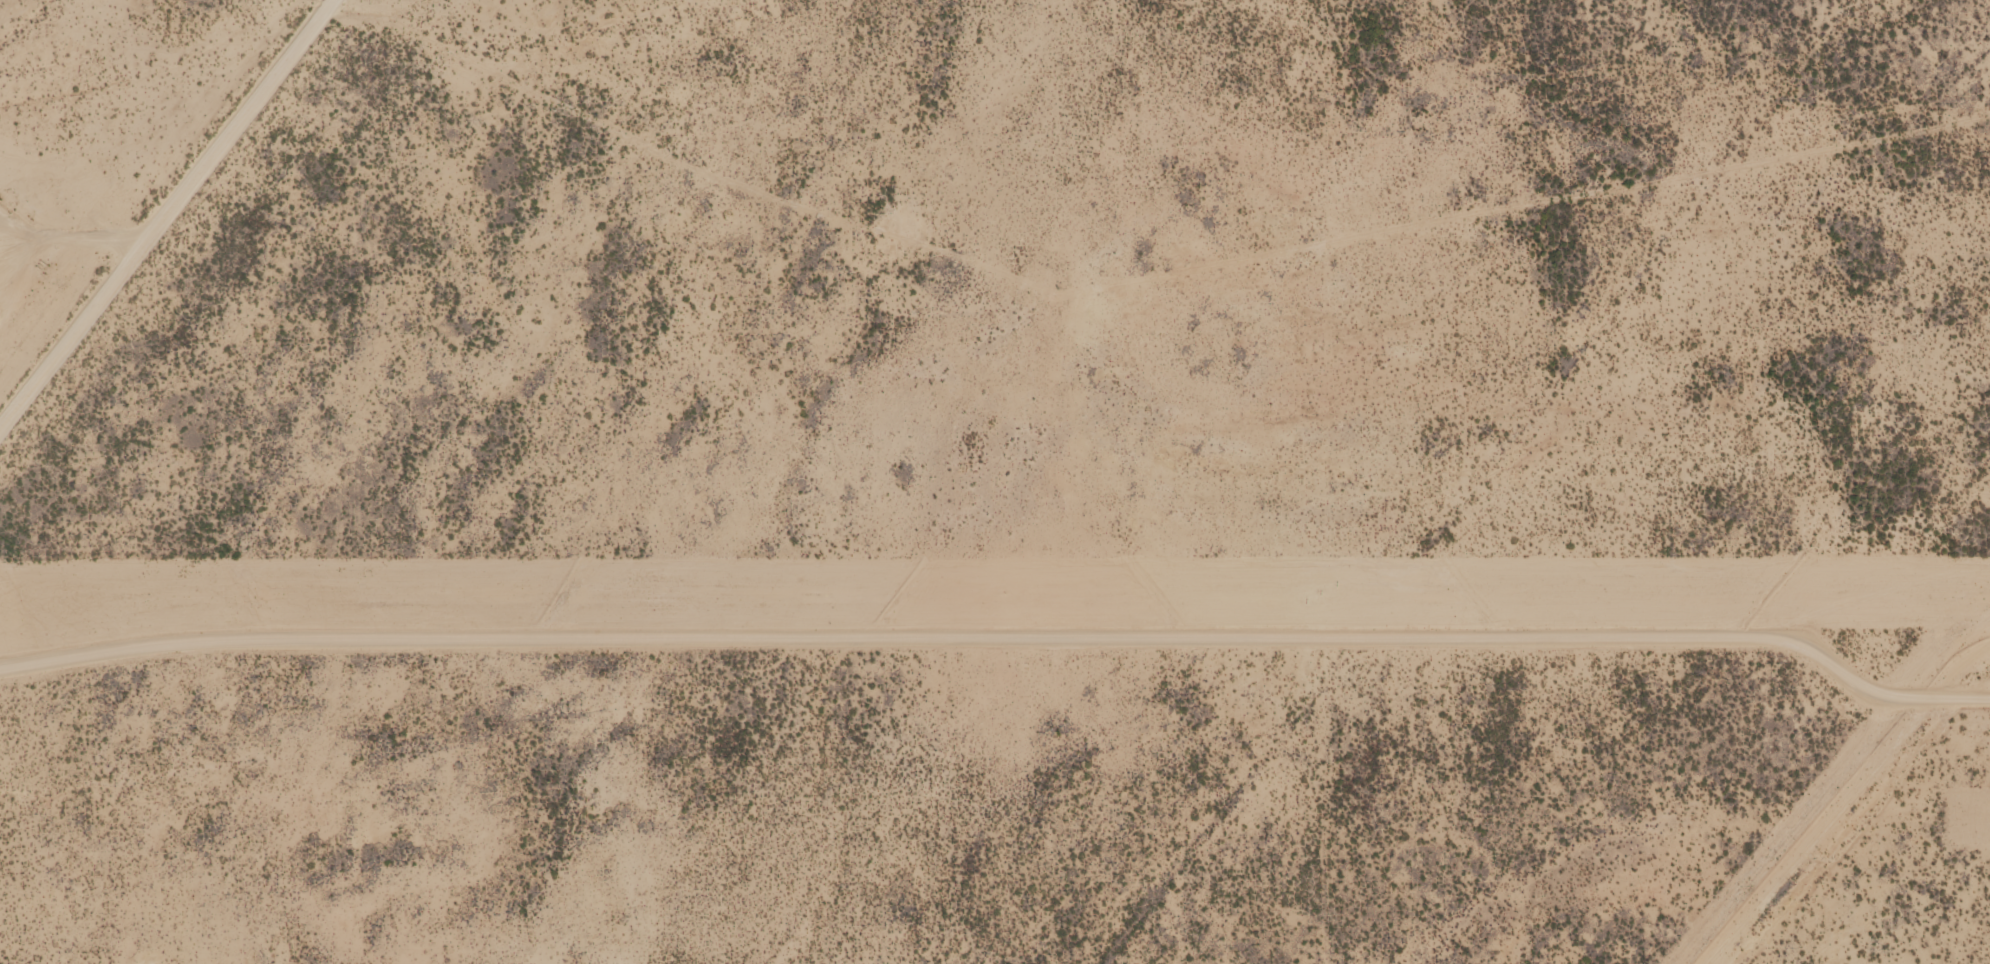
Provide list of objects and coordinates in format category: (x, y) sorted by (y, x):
road: (686, 100)
road: (158, 208)

